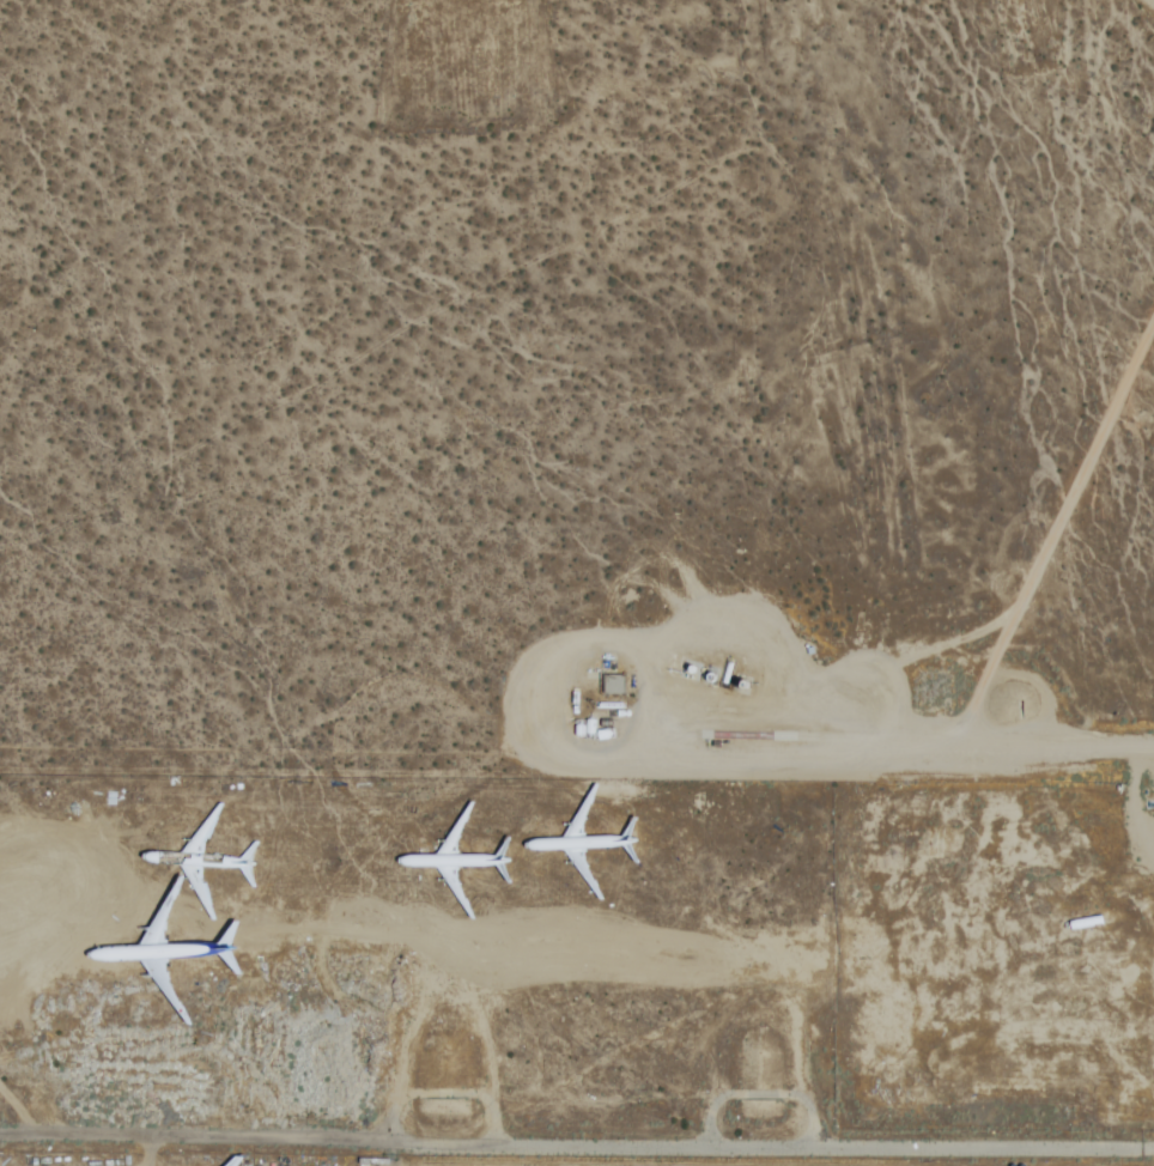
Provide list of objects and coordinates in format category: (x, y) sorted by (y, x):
airport: (577, 583)
building: (612, 685)
road: (874, 753)
building: (861, 1081)
road: (438, 1094)
road: (760, 1097)
road: (198, 1106)
road: (202, 1144)
road: (779, 1150)
airport apron: (357, 1161)

